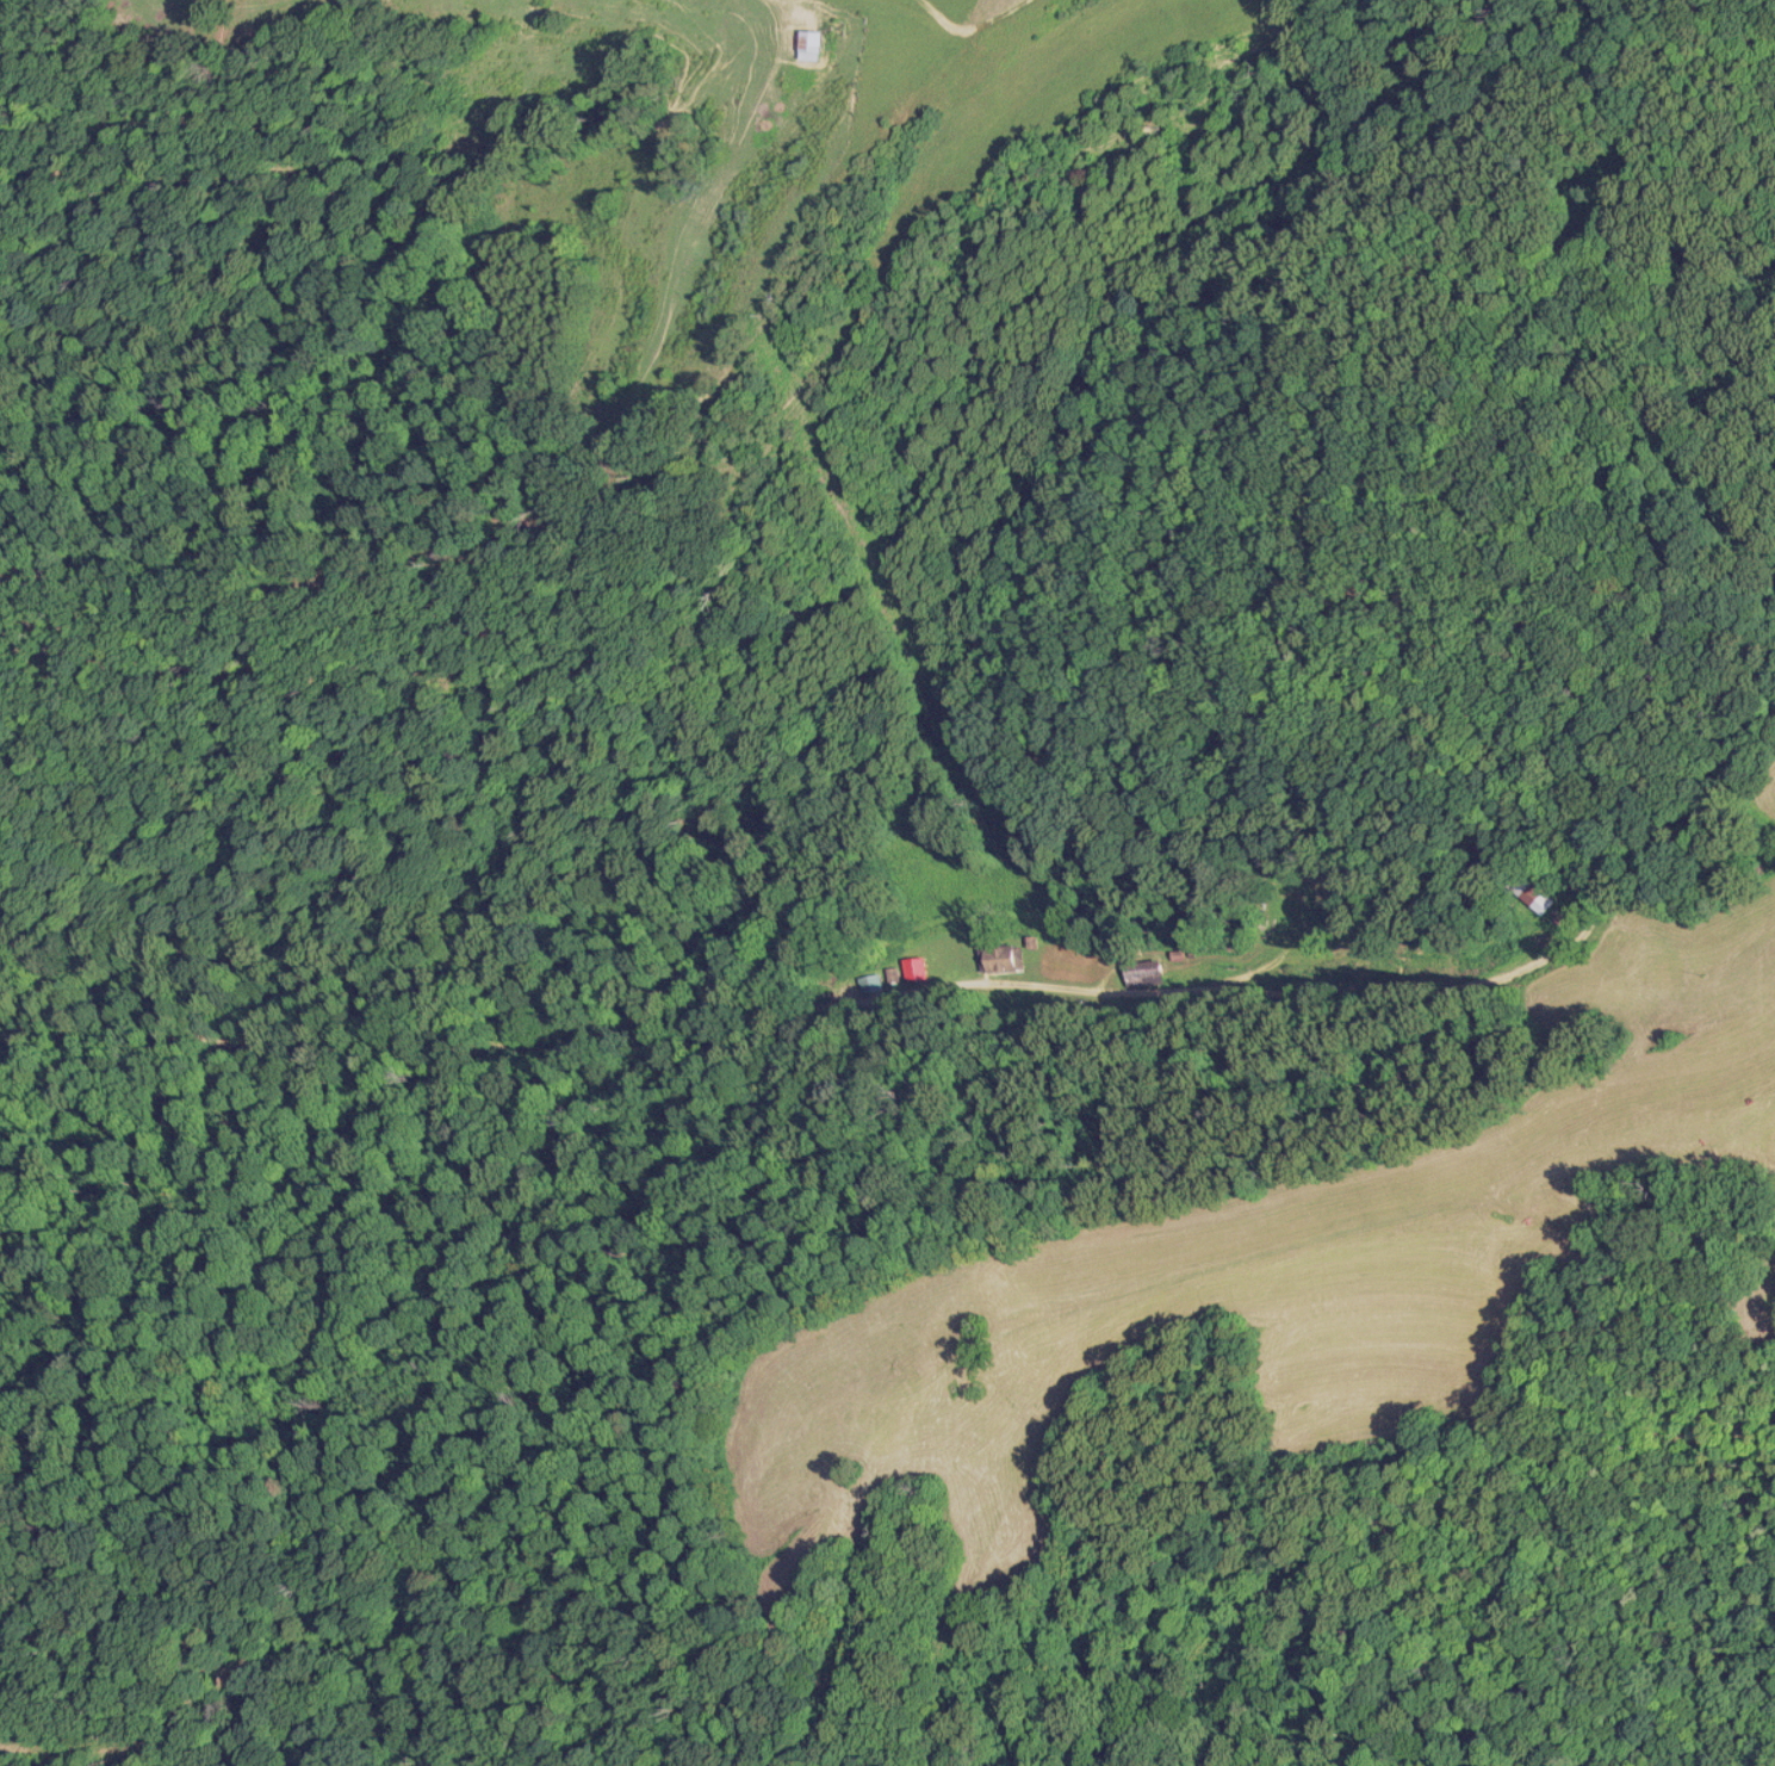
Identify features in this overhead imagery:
road: (962, 32)
road: (1556, 292)
road: (1584, 626)
road: (1018, 965)

